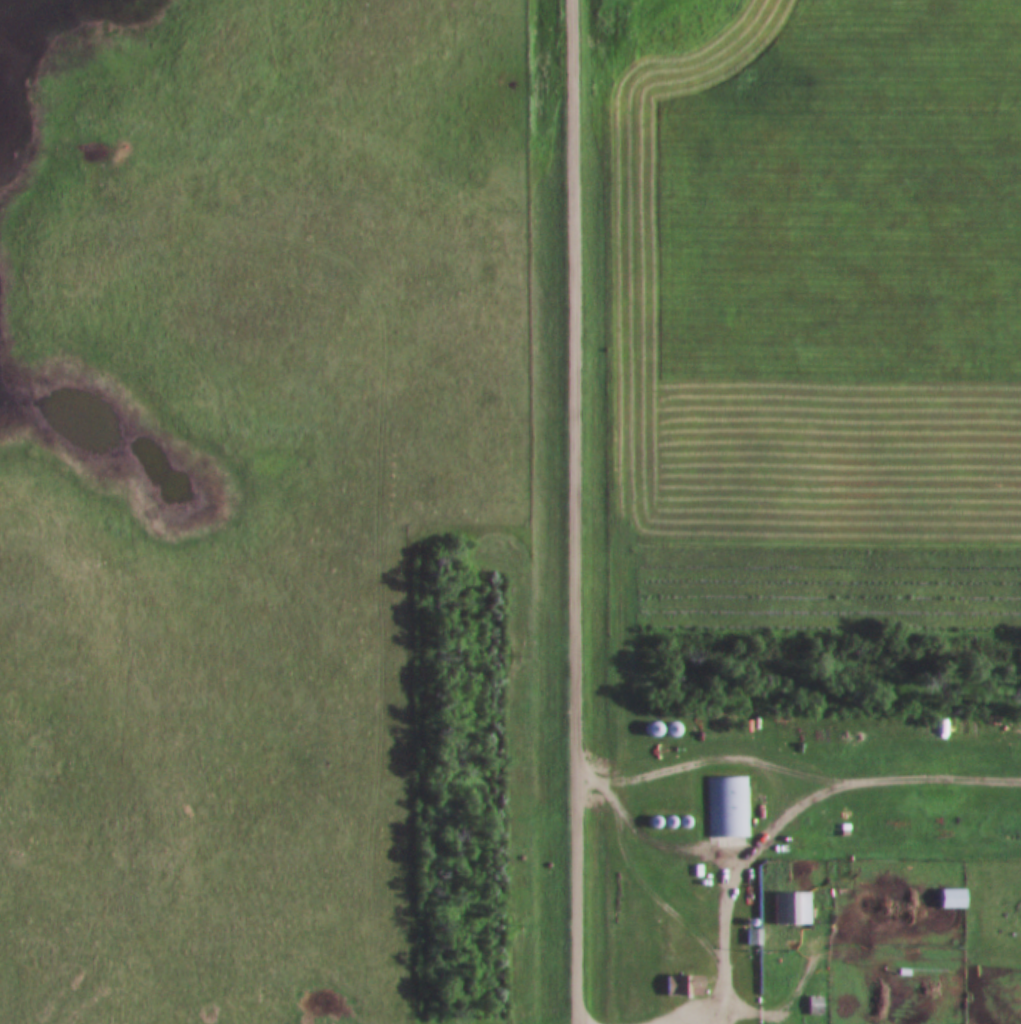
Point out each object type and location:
road: (574, 511)
road: (855, 780)
building: (728, 806)
road: (632, 874)
building: (947, 898)
building: (792, 907)
building: (751, 937)
road: (722, 952)
building: (679, 984)
road: (712, 1005)
building: (812, 1005)

